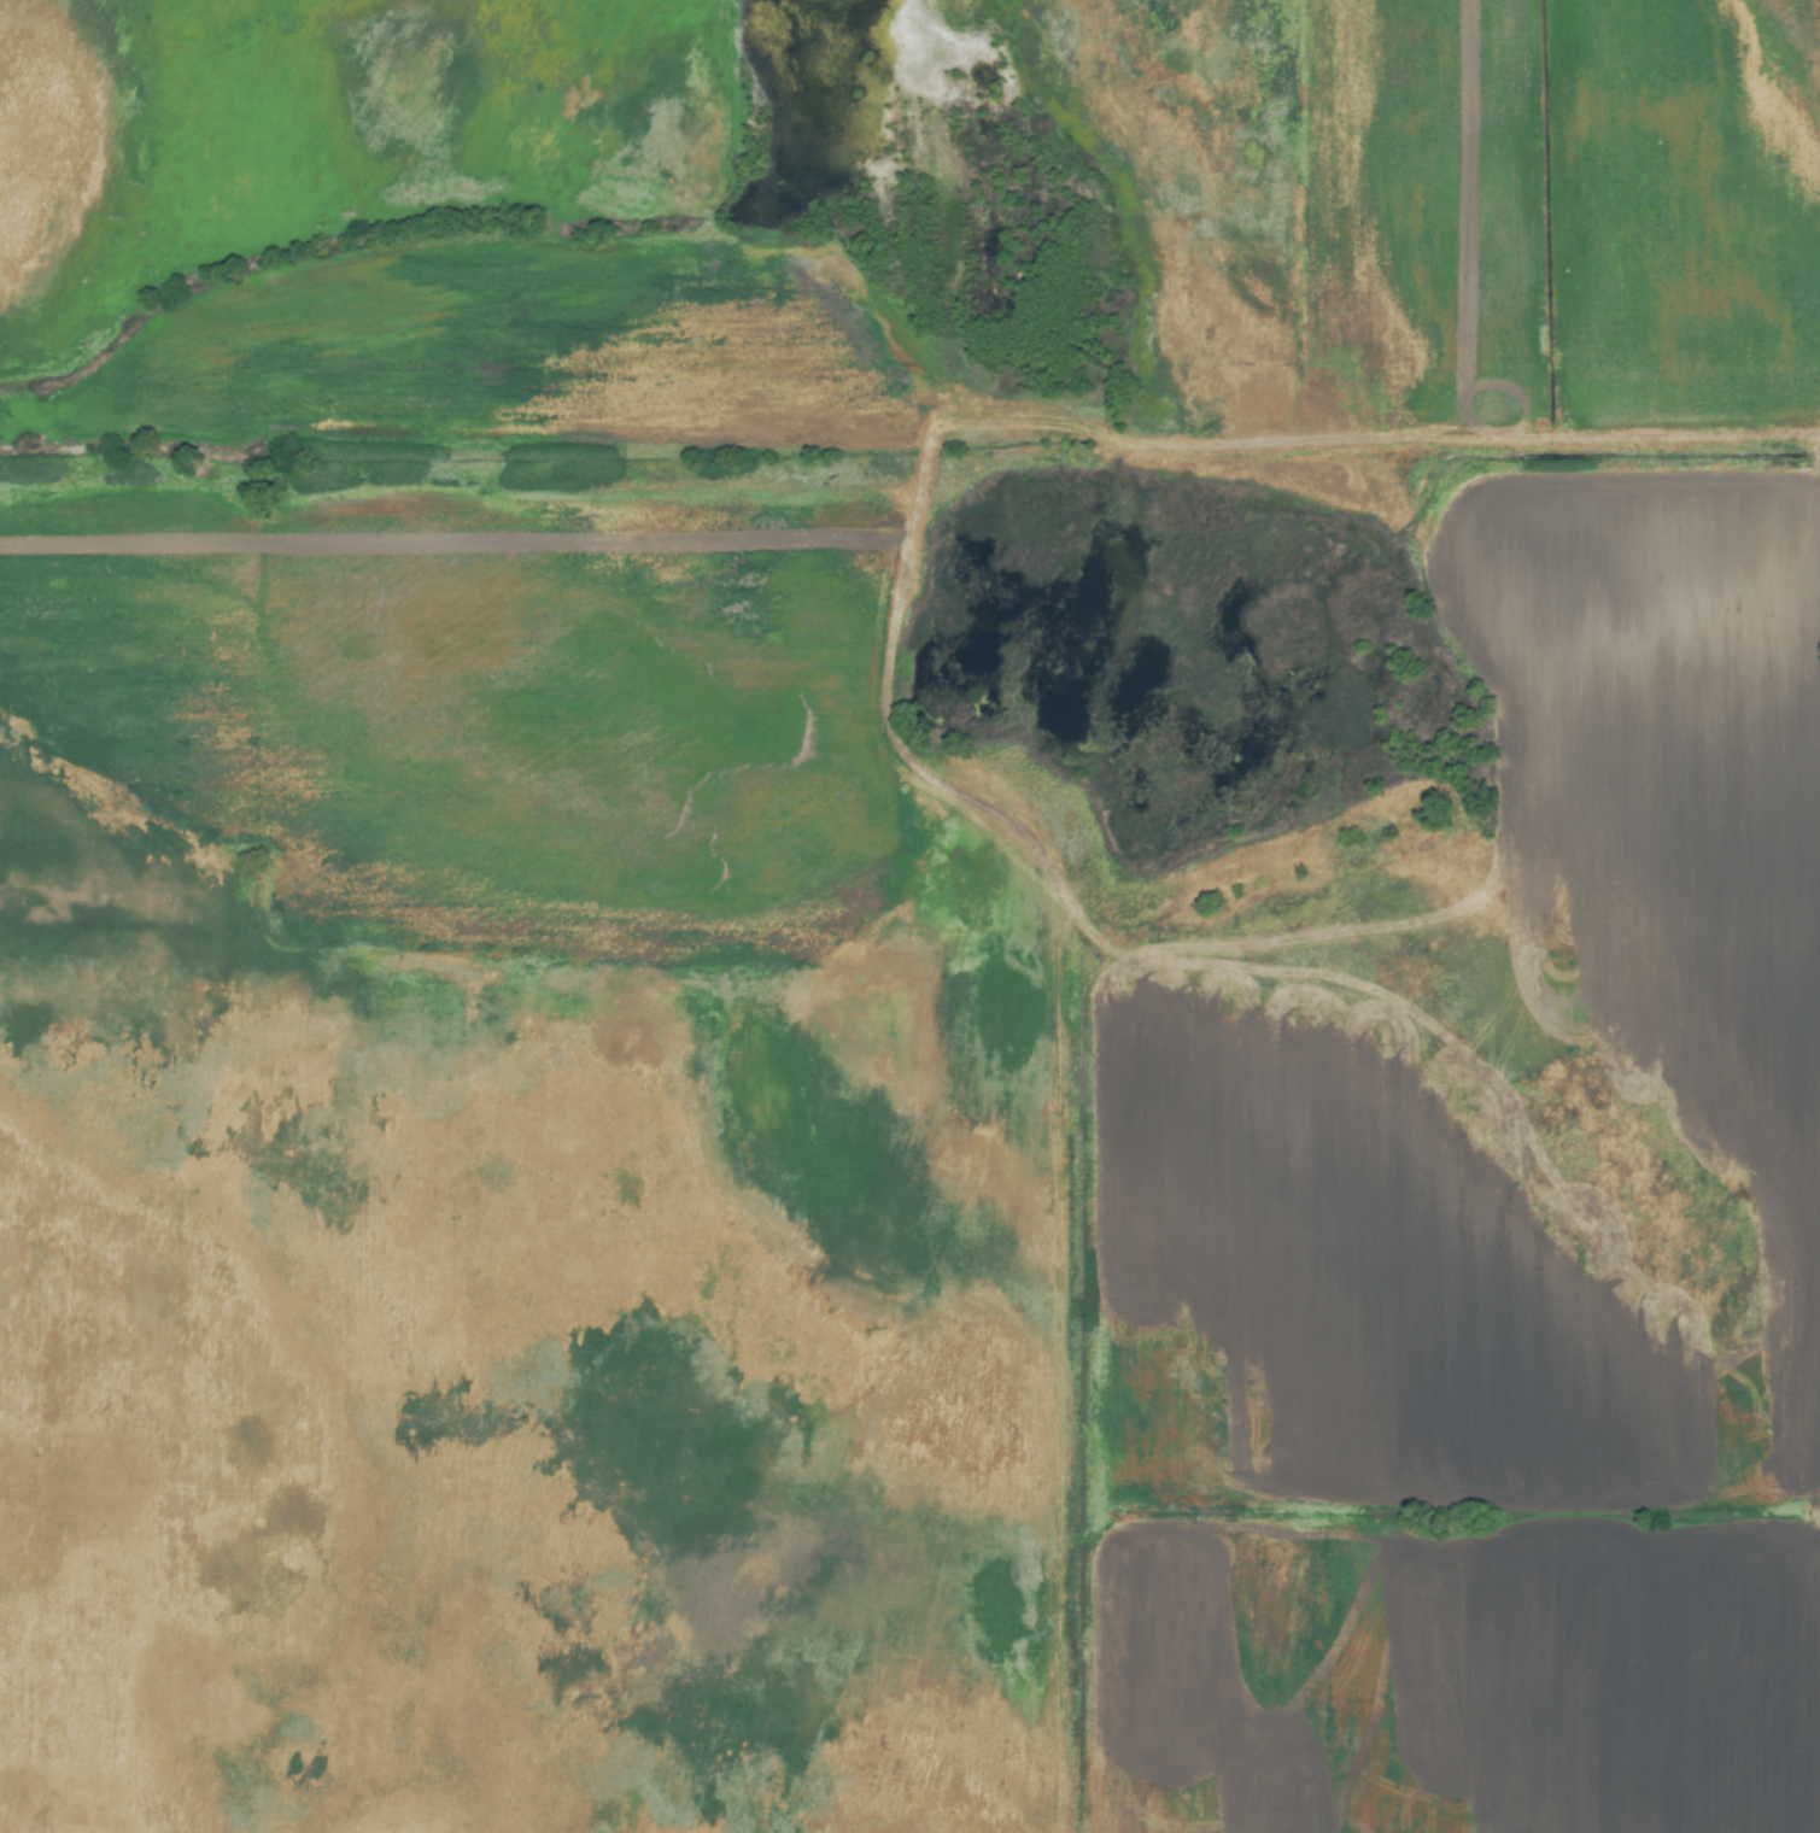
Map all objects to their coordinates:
crop: (909, 916)

